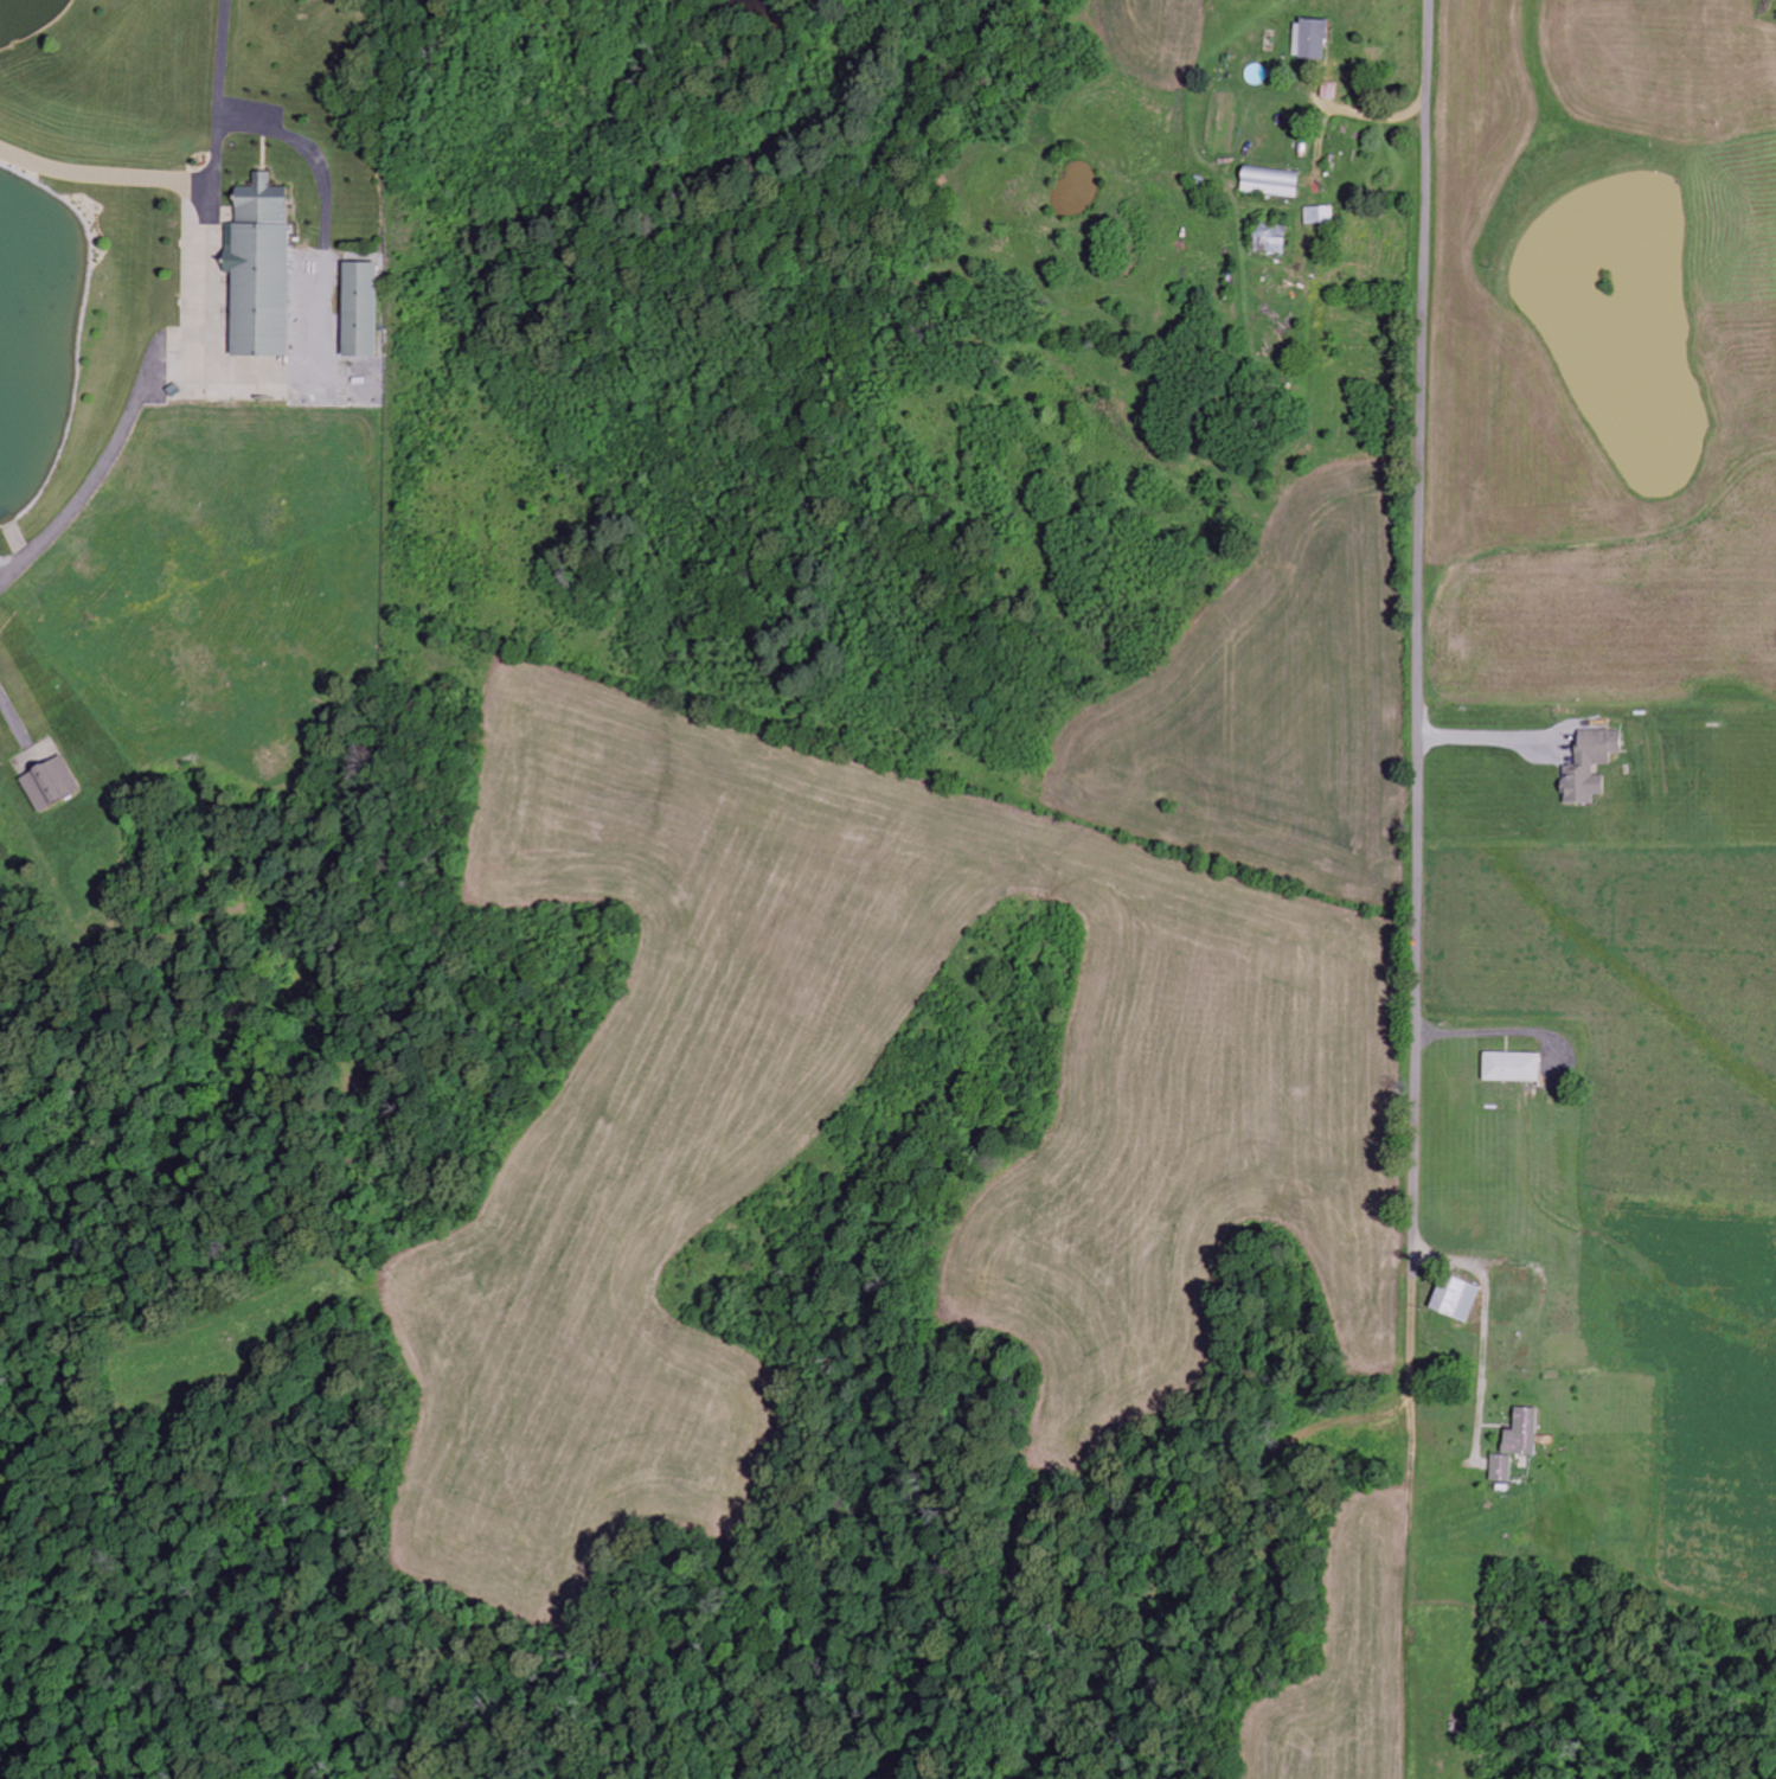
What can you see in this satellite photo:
building: (1312, 40)
building: (1271, 183)
building: (1320, 216)
building: (1271, 239)
building: (261, 270)
building: (361, 311)
road: (1417, 639)
building: (1590, 767)
building: (50, 783)
building: (1513, 1068)
building: (1457, 1299)
building: (1518, 1446)

